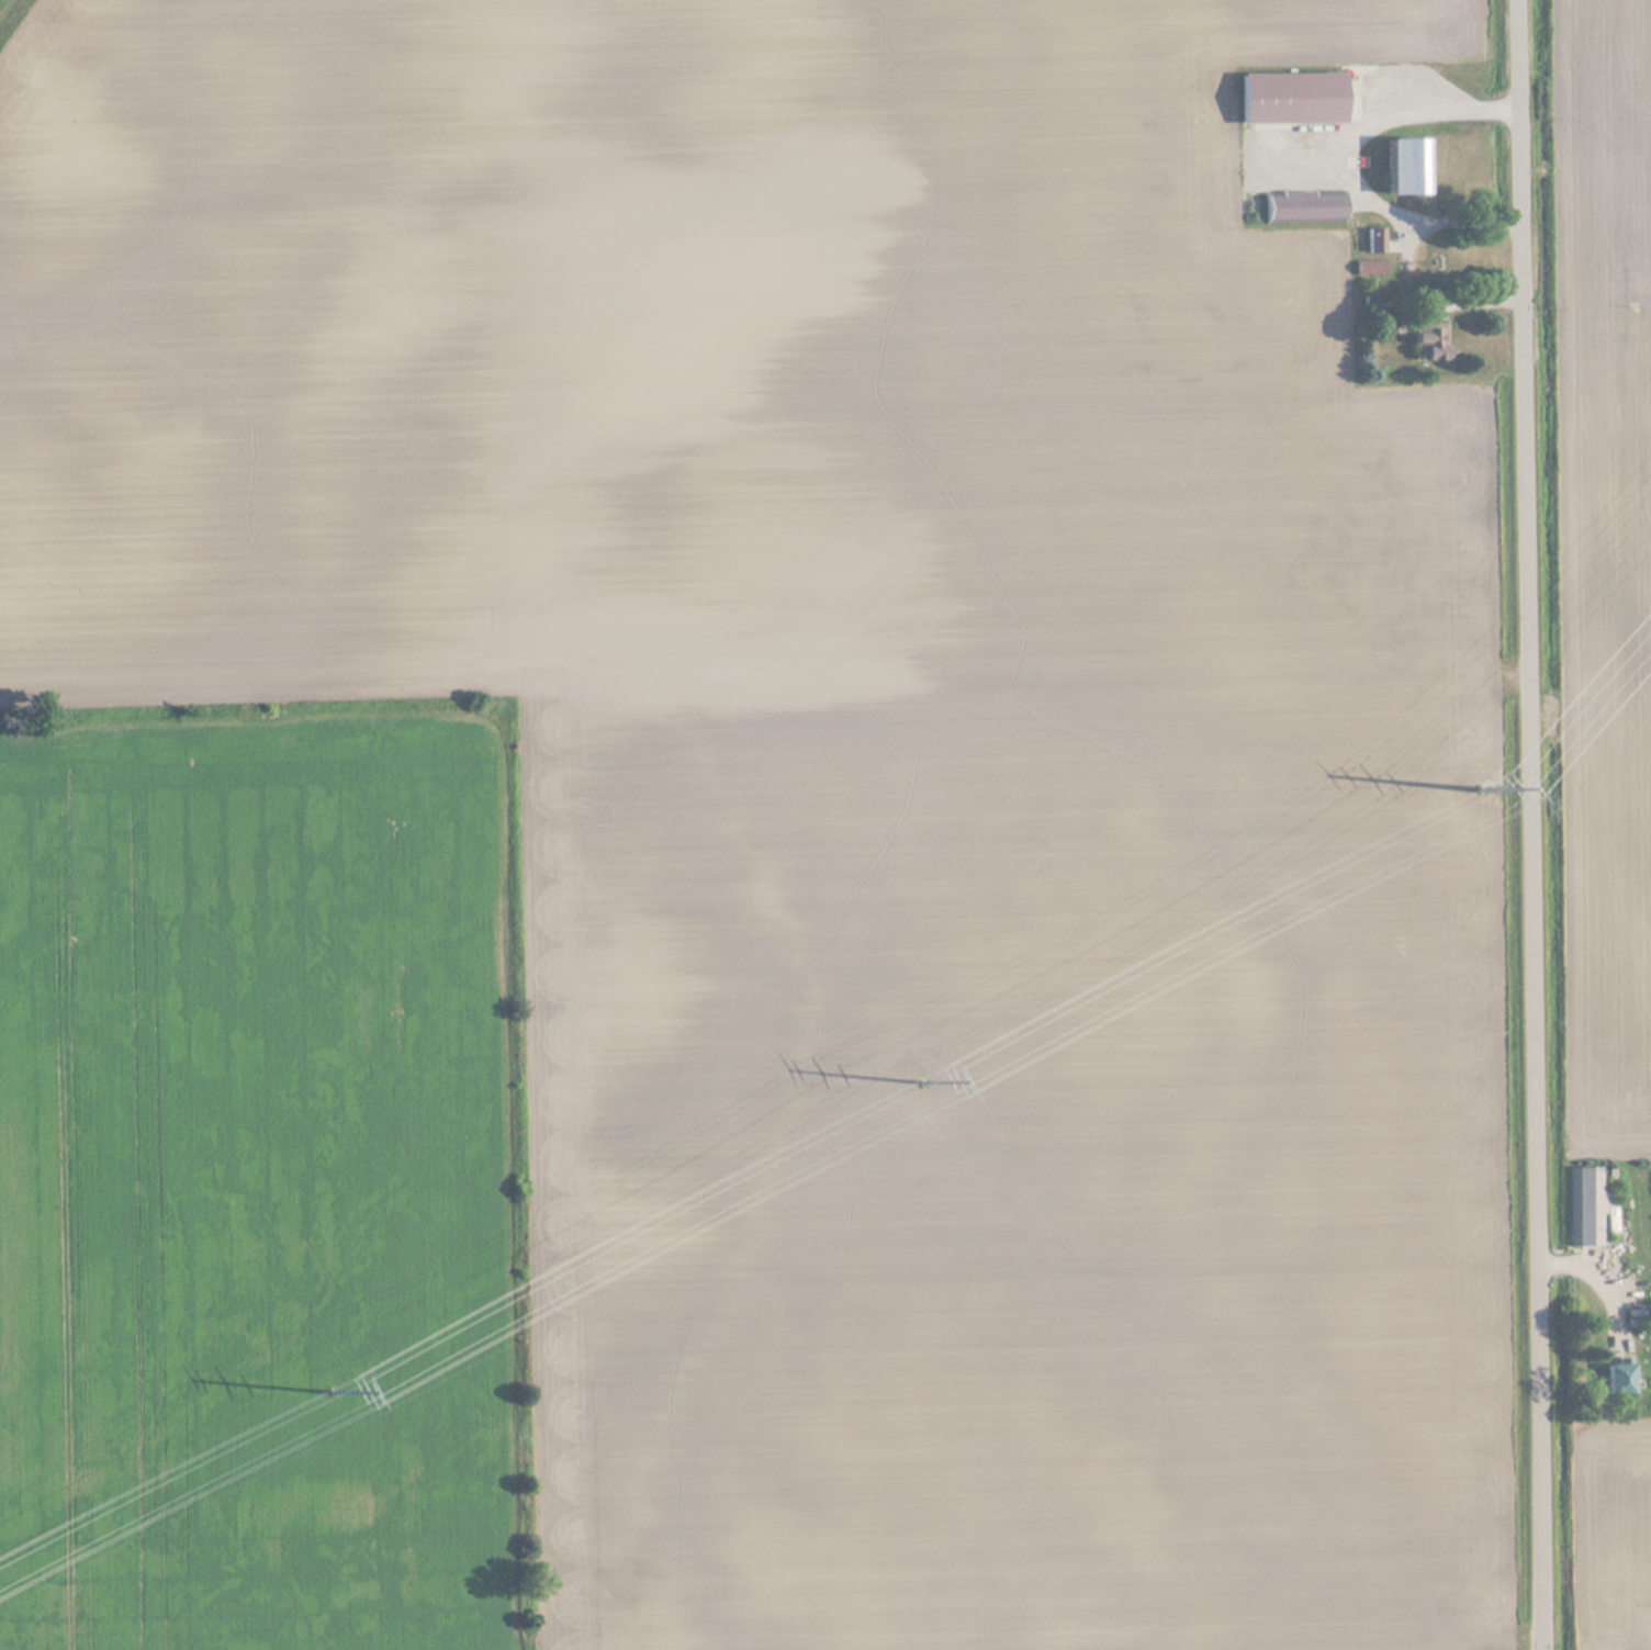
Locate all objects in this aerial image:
building: (1293, 98)
building: (1408, 166)
building: (1305, 207)
building: (1375, 240)
building: (1368, 268)
building: (1428, 329)
power tower: (1479, 778)
road: (1531, 824)
power tower: (919, 1071)
building: (1585, 1206)
building: (1618, 1380)

